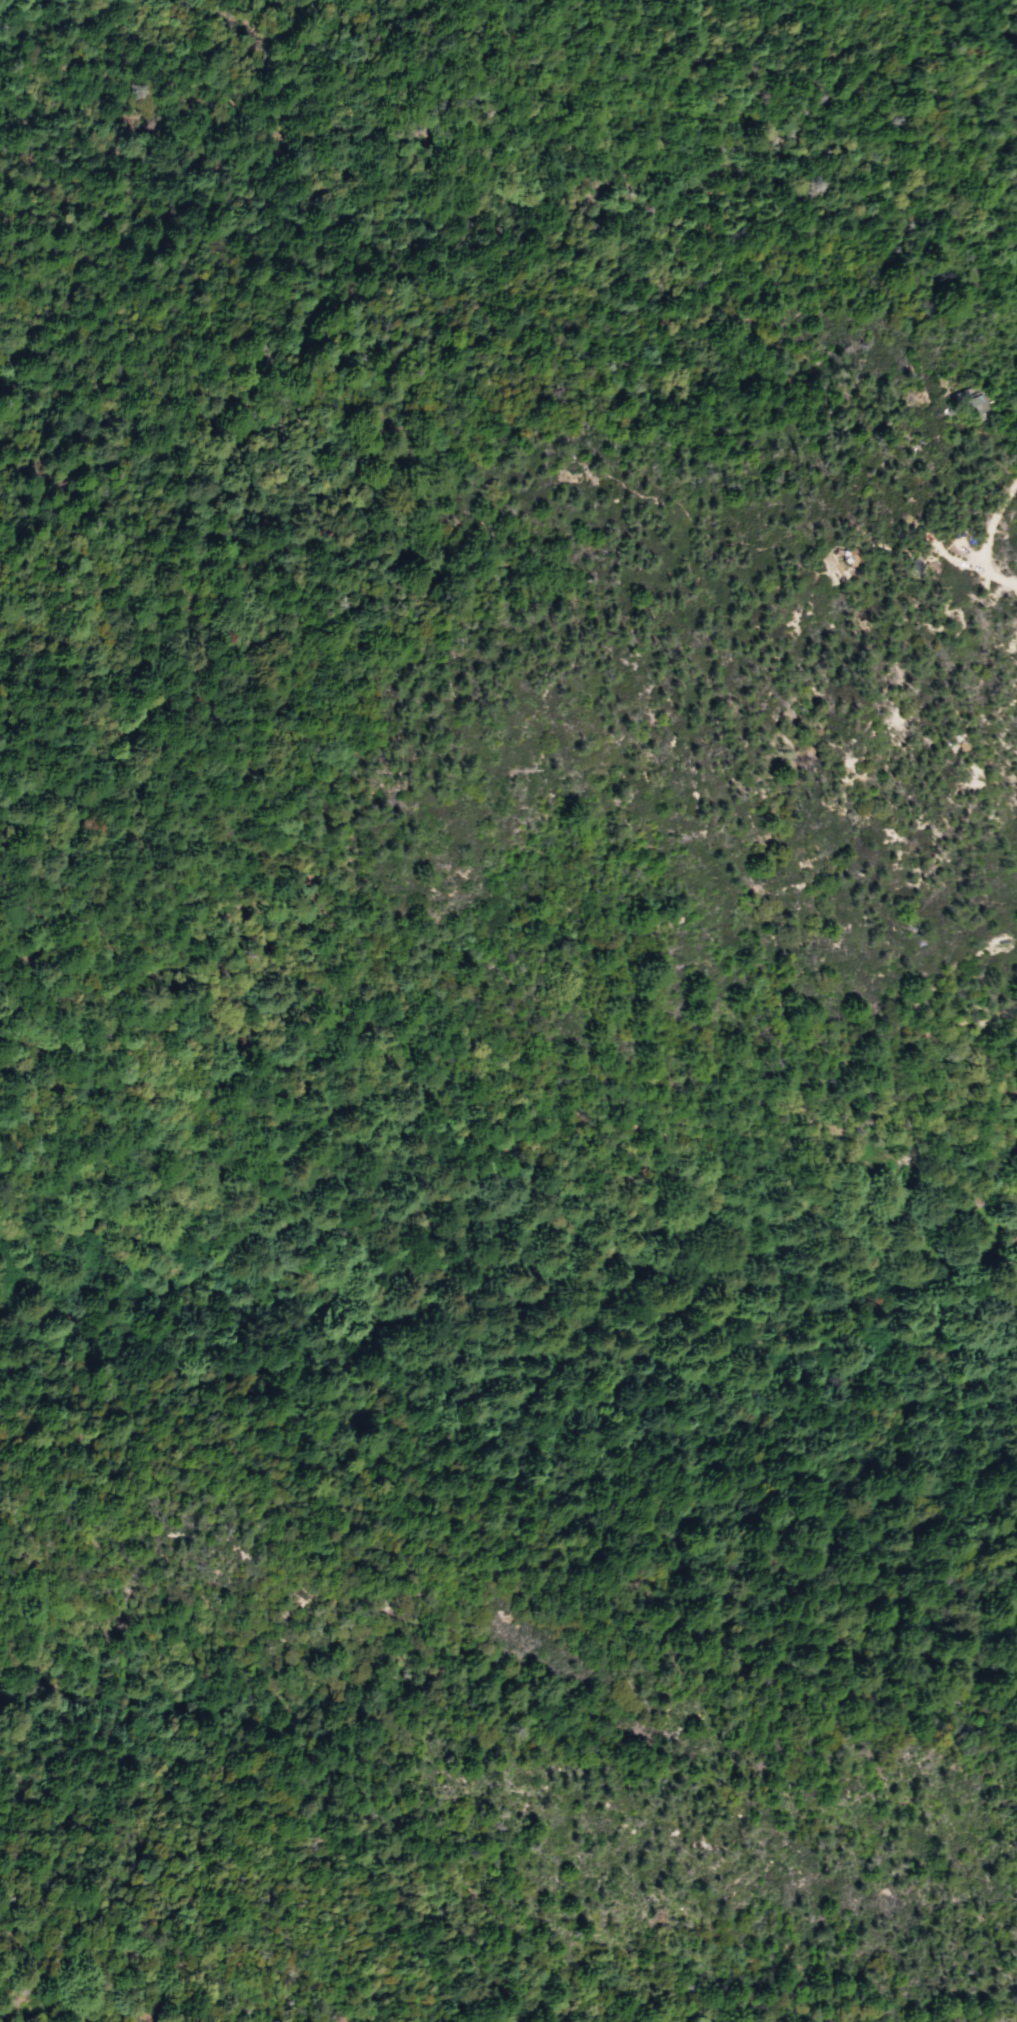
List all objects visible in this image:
building: (981, 406)
road: (989, 524)
road: (913, 534)
building: (850, 566)
building: (918, 571)
road: (892, 1621)

